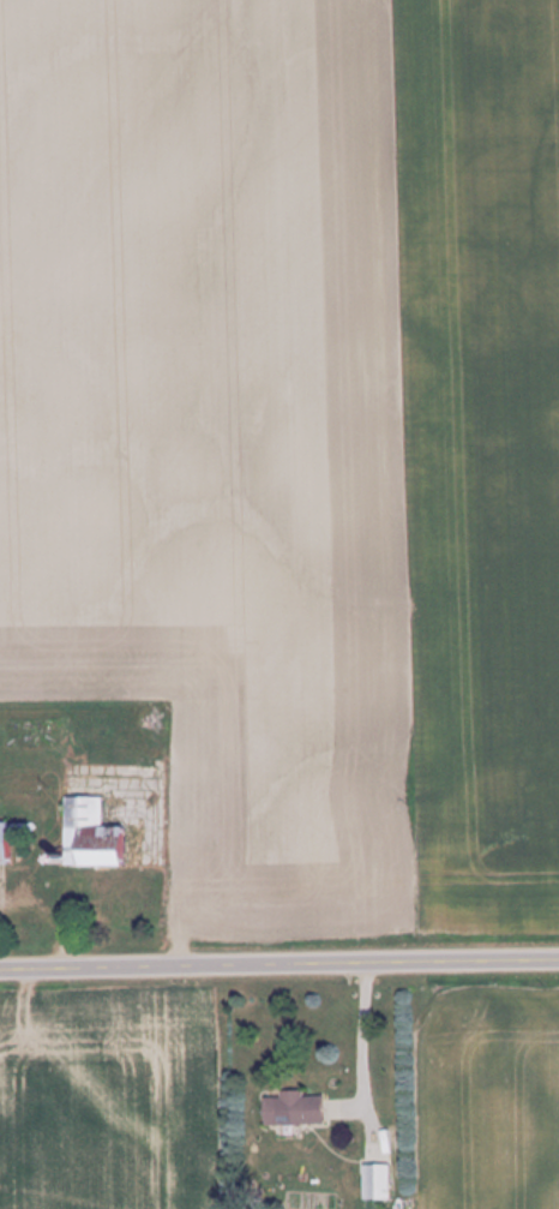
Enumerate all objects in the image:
building: (86, 834)
building: (1, 844)
road: (279, 966)
building: (291, 1108)

